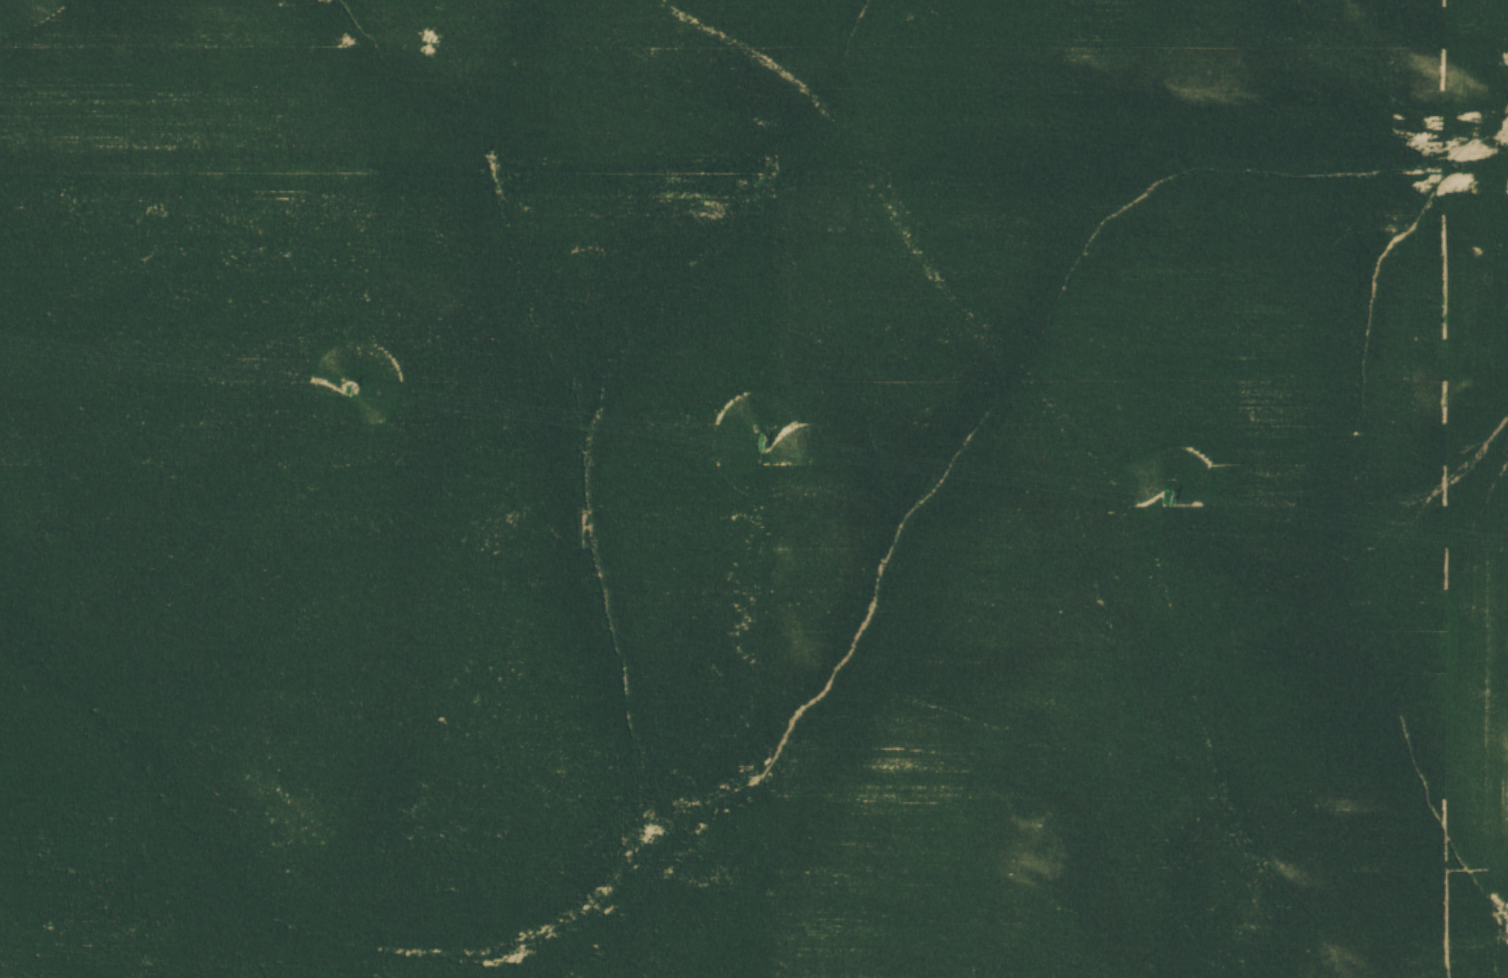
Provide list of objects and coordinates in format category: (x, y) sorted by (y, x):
crop: (378, 576)

